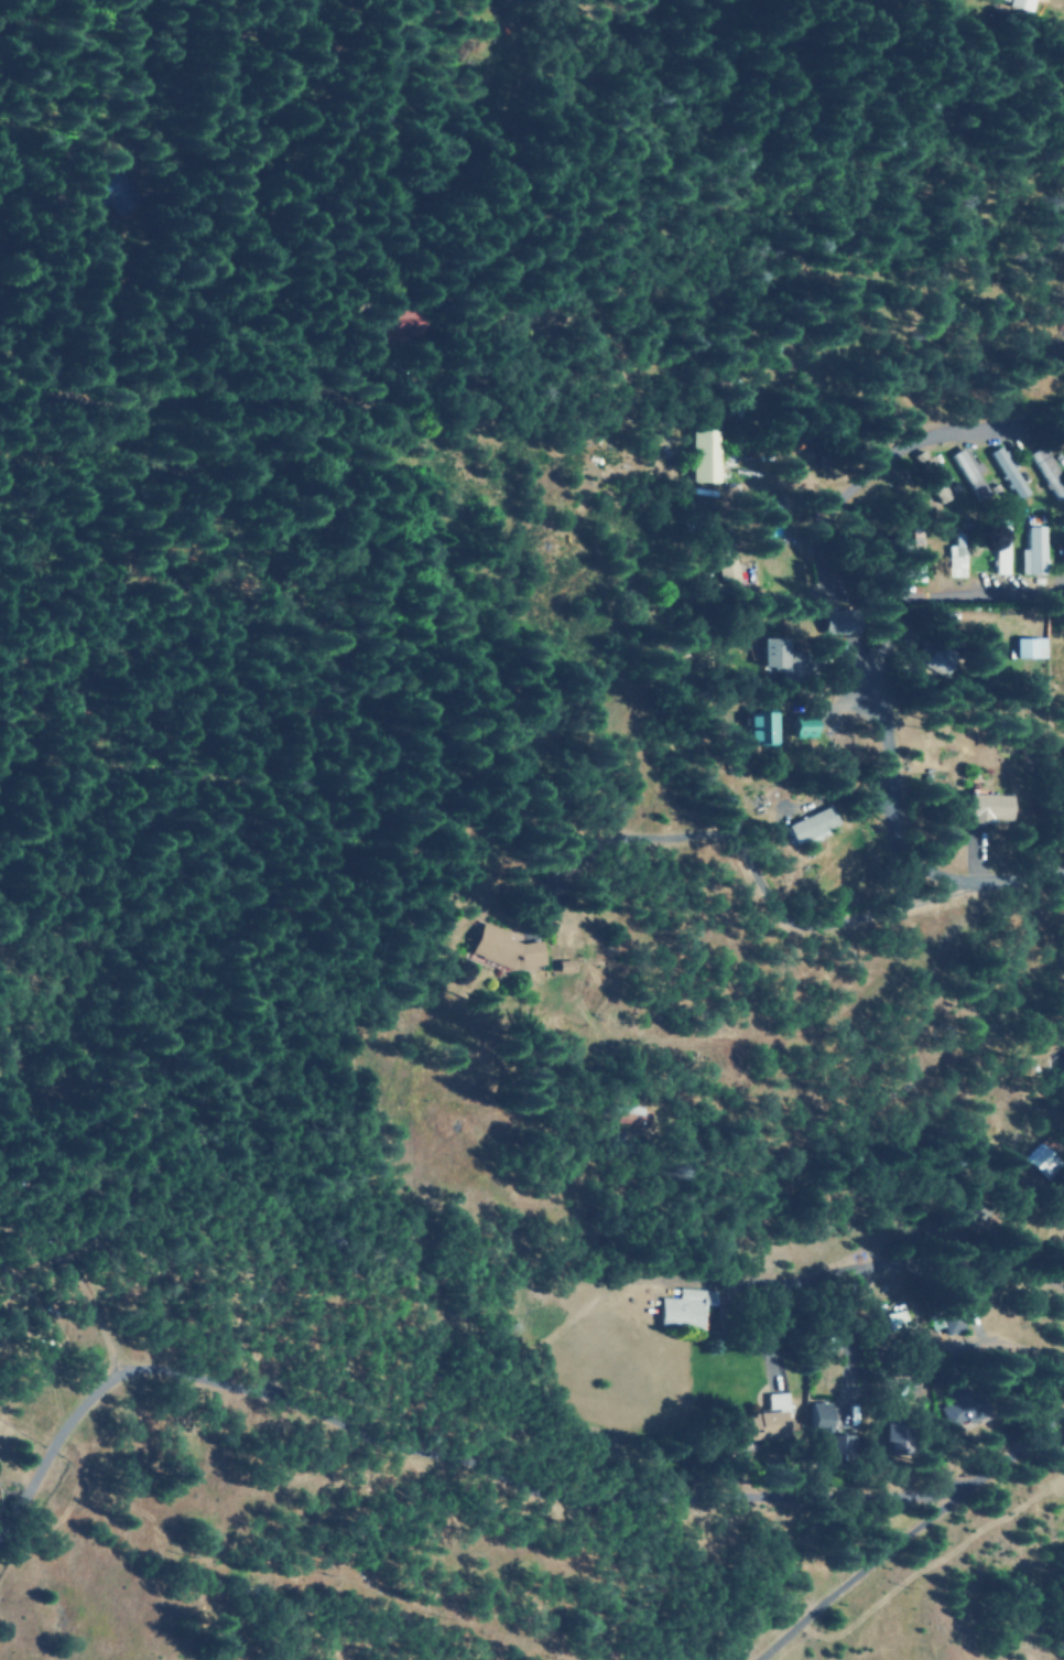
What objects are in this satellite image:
road: (242, 405)
road: (721, 462)
road: (911, 769)
road: (877, 908)
road: (933, 1214)
road: (872, 1391)

